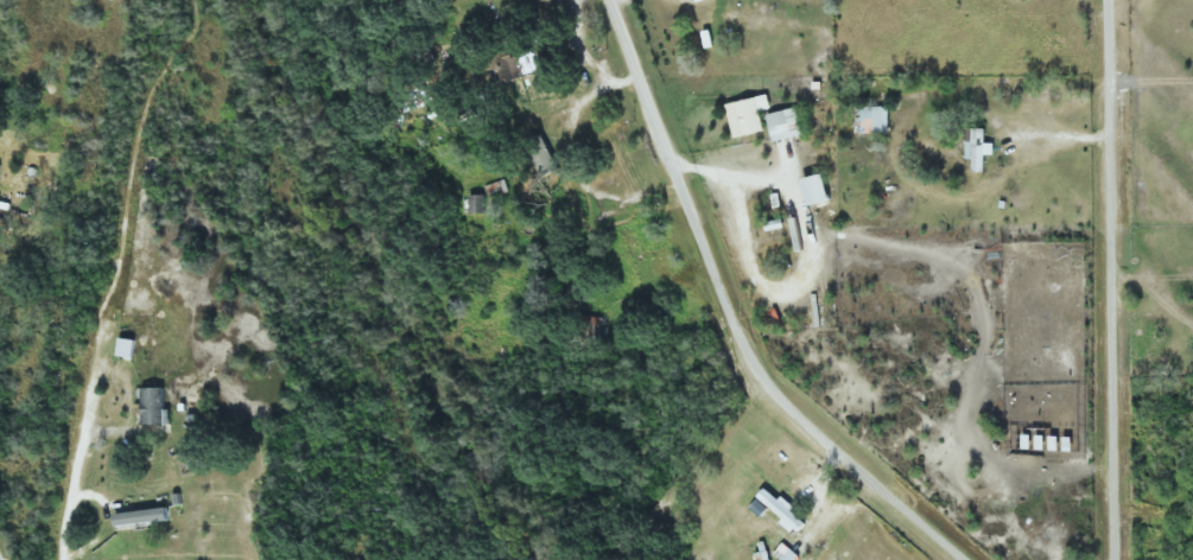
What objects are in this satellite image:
building: (754, 113)
building: (870, 119)
building: (785, 123)
building: (977, 149)
building: (0, 165)
building: (819, 189)
building: (477, 203)
road: (1106, 280)
road: (729, 320)
building: (594, 325)
building: (783, 510)

